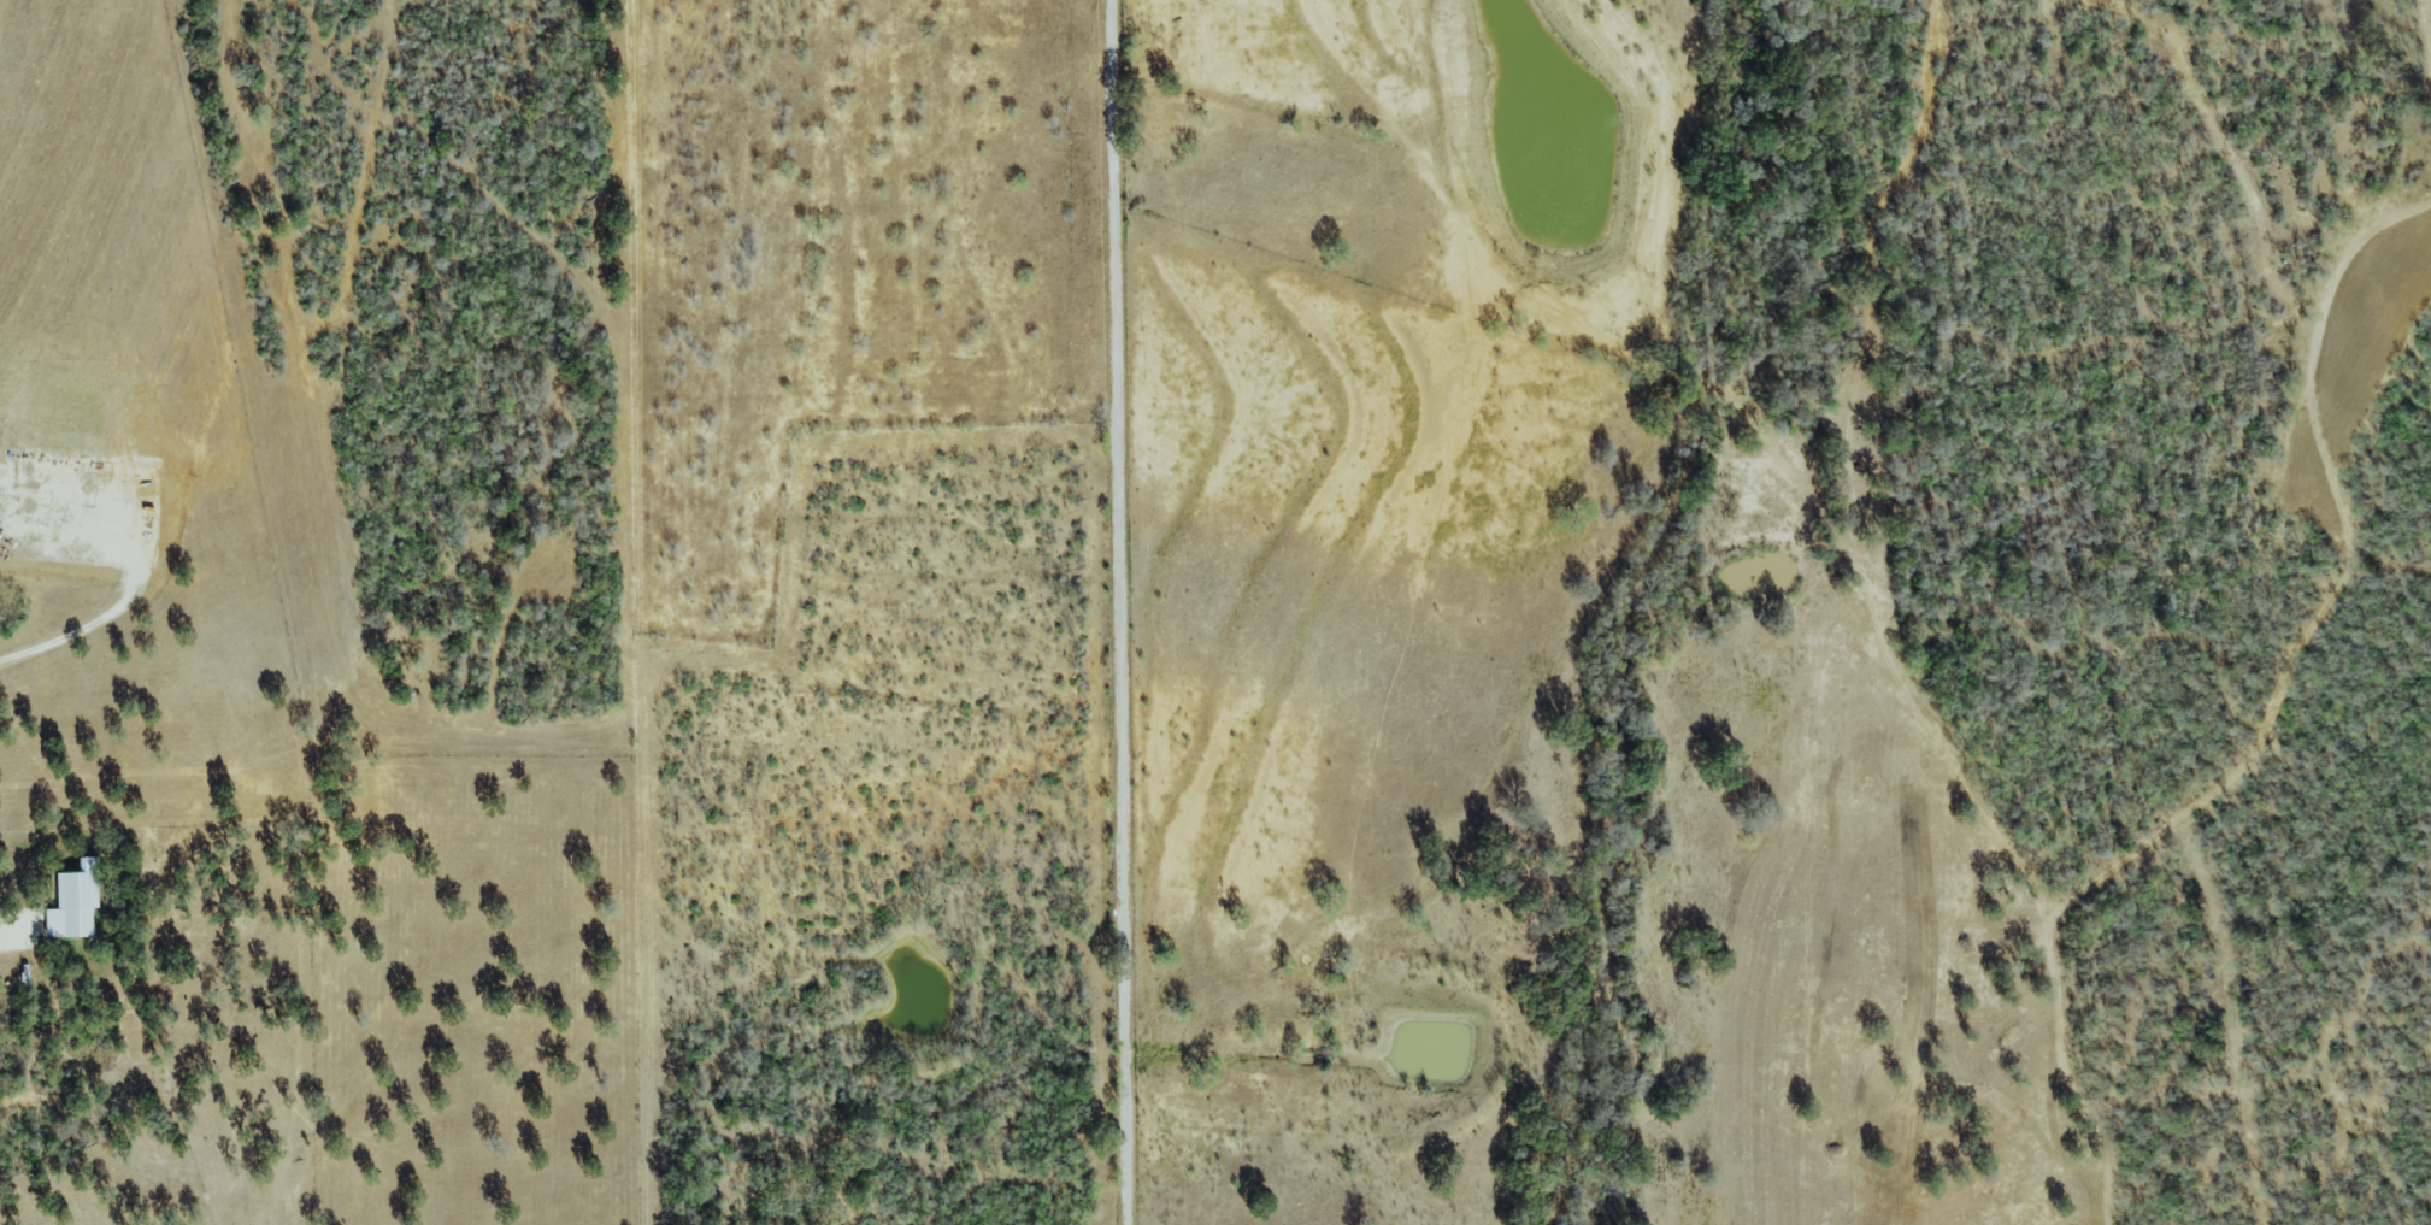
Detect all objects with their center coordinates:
road: (1120, 612)
building: (73, 901)
road: (5, 942)

